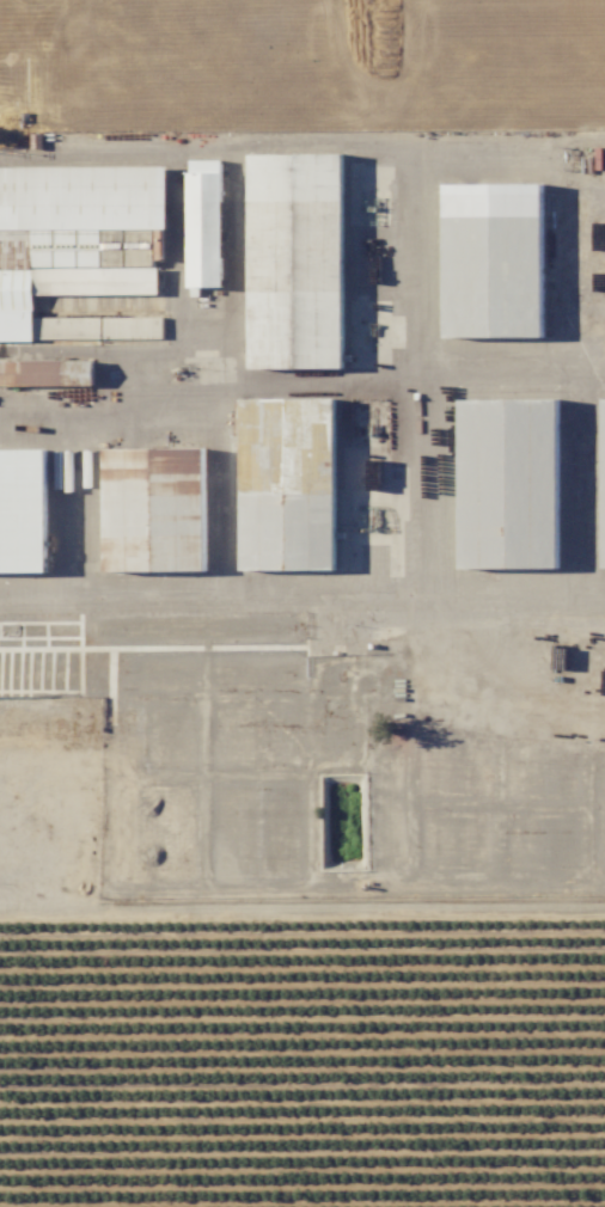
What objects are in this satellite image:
building: (206, 223)
building: (74, 245)
building: (112, 247)
building: (297, 261)
building: (494, 261)
building: (47, 373)
building: (604, 460)
building: (509, 483)
building: (288, 484)
building: (155, 509)
building: (23, 510)

